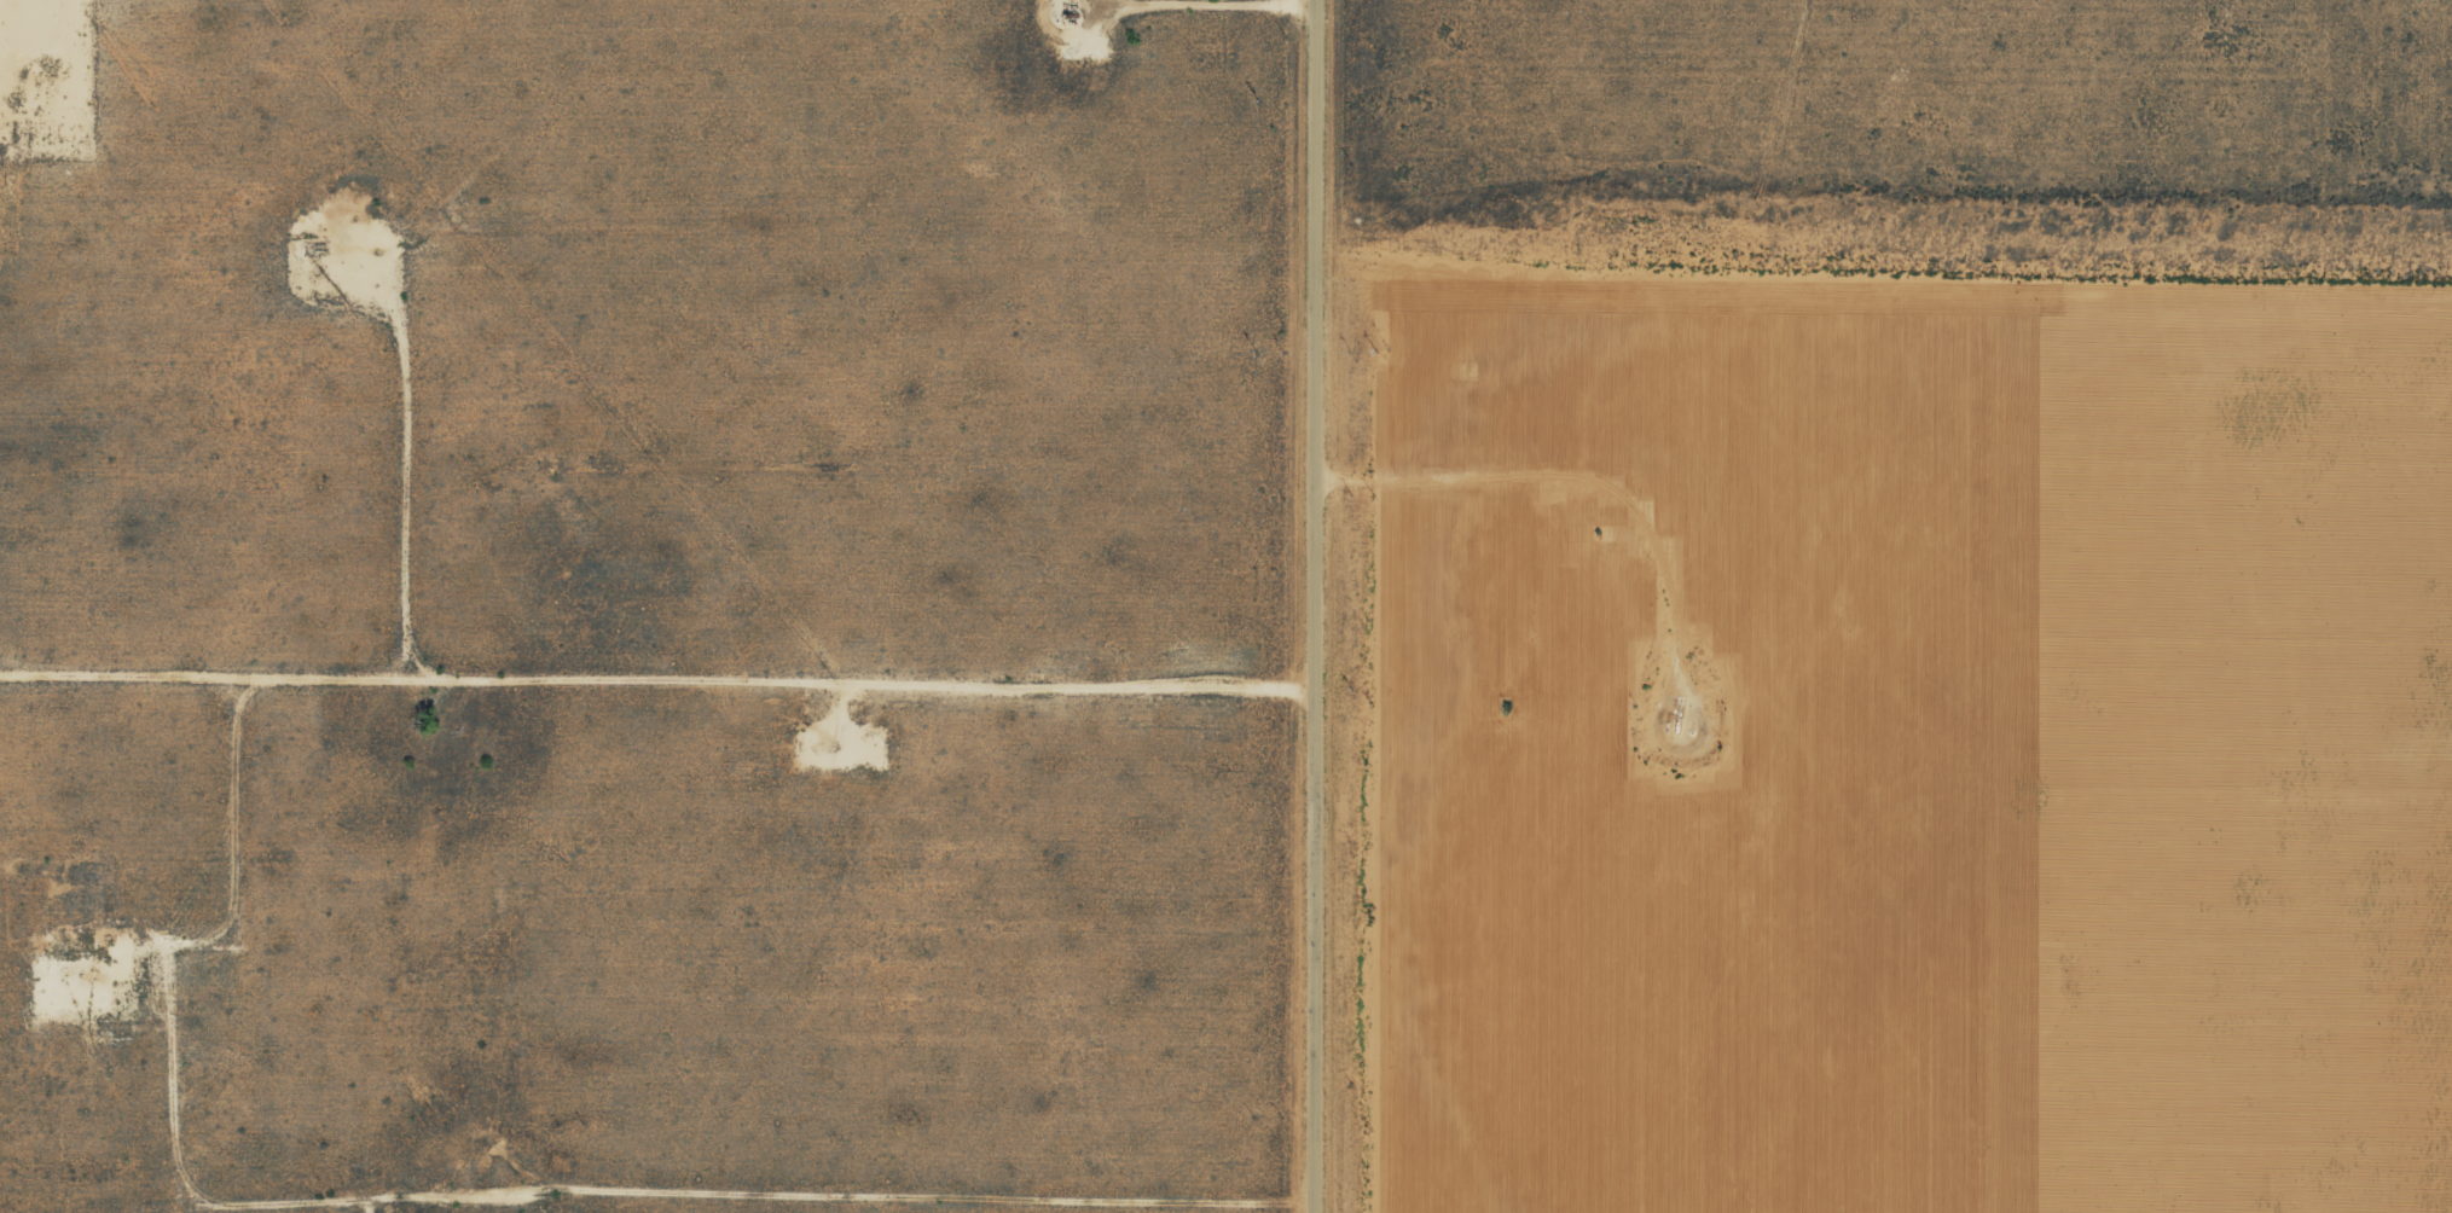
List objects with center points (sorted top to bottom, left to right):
road: (1303, 605)
road: (651, 663)
road: (651, 1177)

